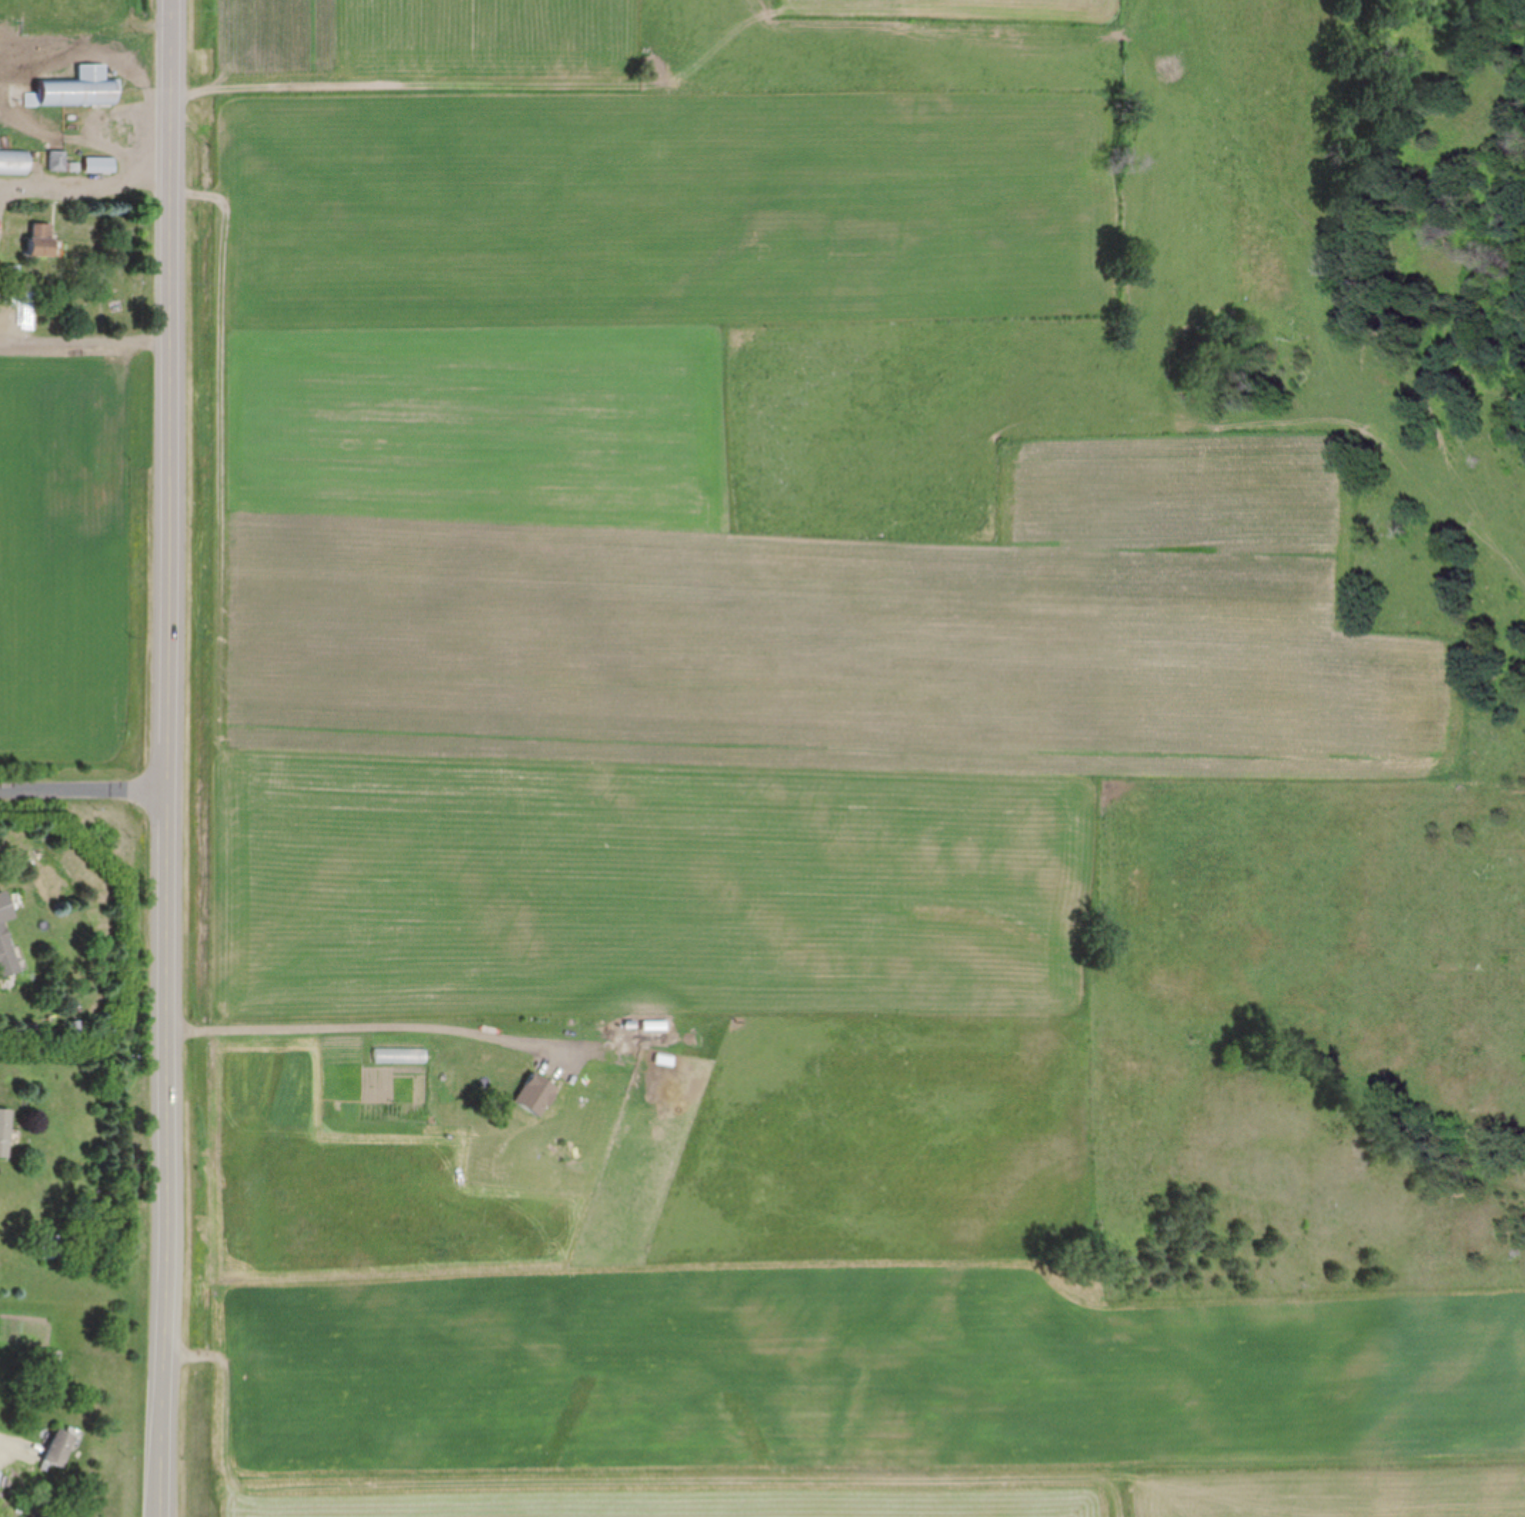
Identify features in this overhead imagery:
building: (78, 88)
building: (14, 160)
building: (61, 161)
building: (100, 164)
road: (86, 188)
building: (42, 239)
building: (74, 306)
building: (1, 317)
road: (175, 758)
road: (88, 788)
building: (8, 953)
road: (359, 1020)
building: (5, 1130)
building: (53, 1245)
building: (61, 1446)
road: (9, 1451)

